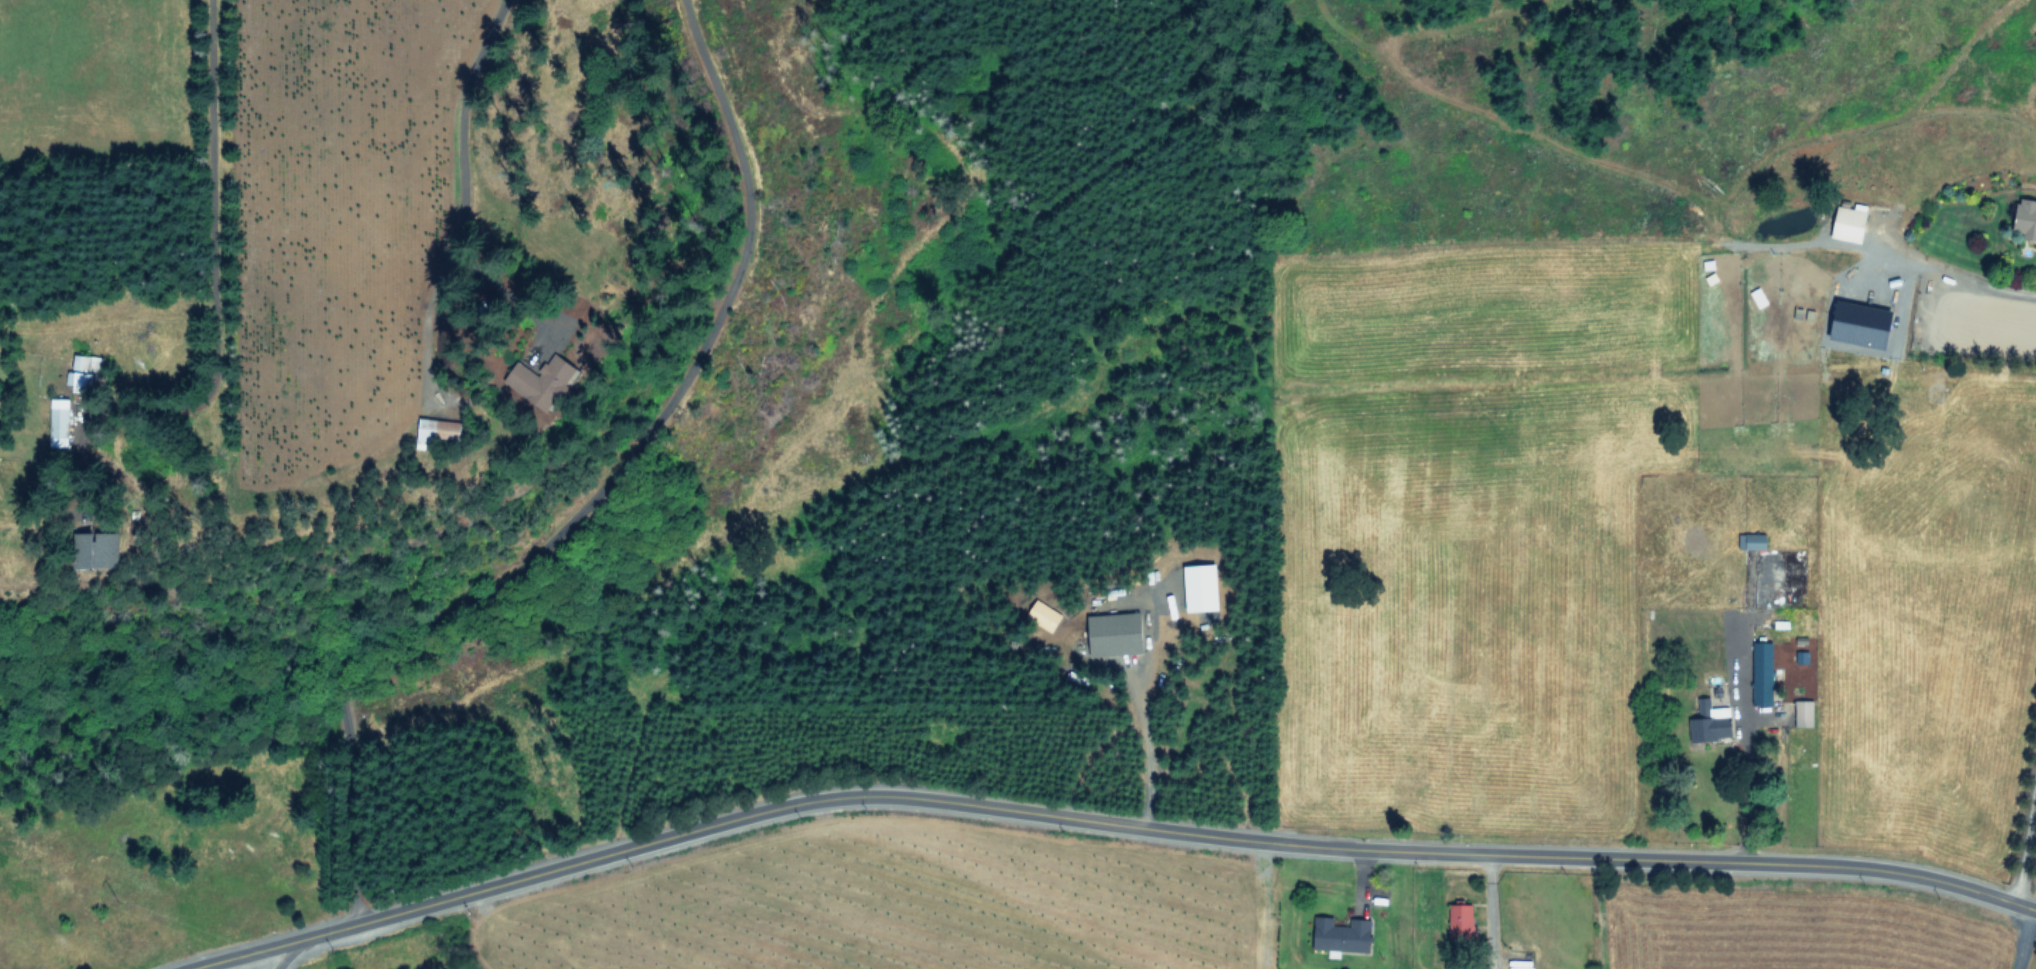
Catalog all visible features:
road: (454, 119)
road: (209, 210)
building: (2028, 217)
building: (1849, 222)
road: (1984, 291)
road: (505, 292)
building: (1760, 296)
building: (1864, 324)
road: (426, 327)
building: (544, 382)
building: (59, 421)
building: (438, 429)
road: (593, 496)
building: (1754, 541)
building: (99, 549)
building: (1119, 633)
building: (1764, 671)
building: (1806, 713)
building: (1712, 721)
road: (1142, 742)
road: (1747, 767)
road: (2020, 824)
road: (1161, 829)
road: (1486, 910)
building: (1462, 919)
building: (1343, 935)
road: (2016, 937)
road: (287, 952)
road: (245, 953)
building: (1520, 967)

